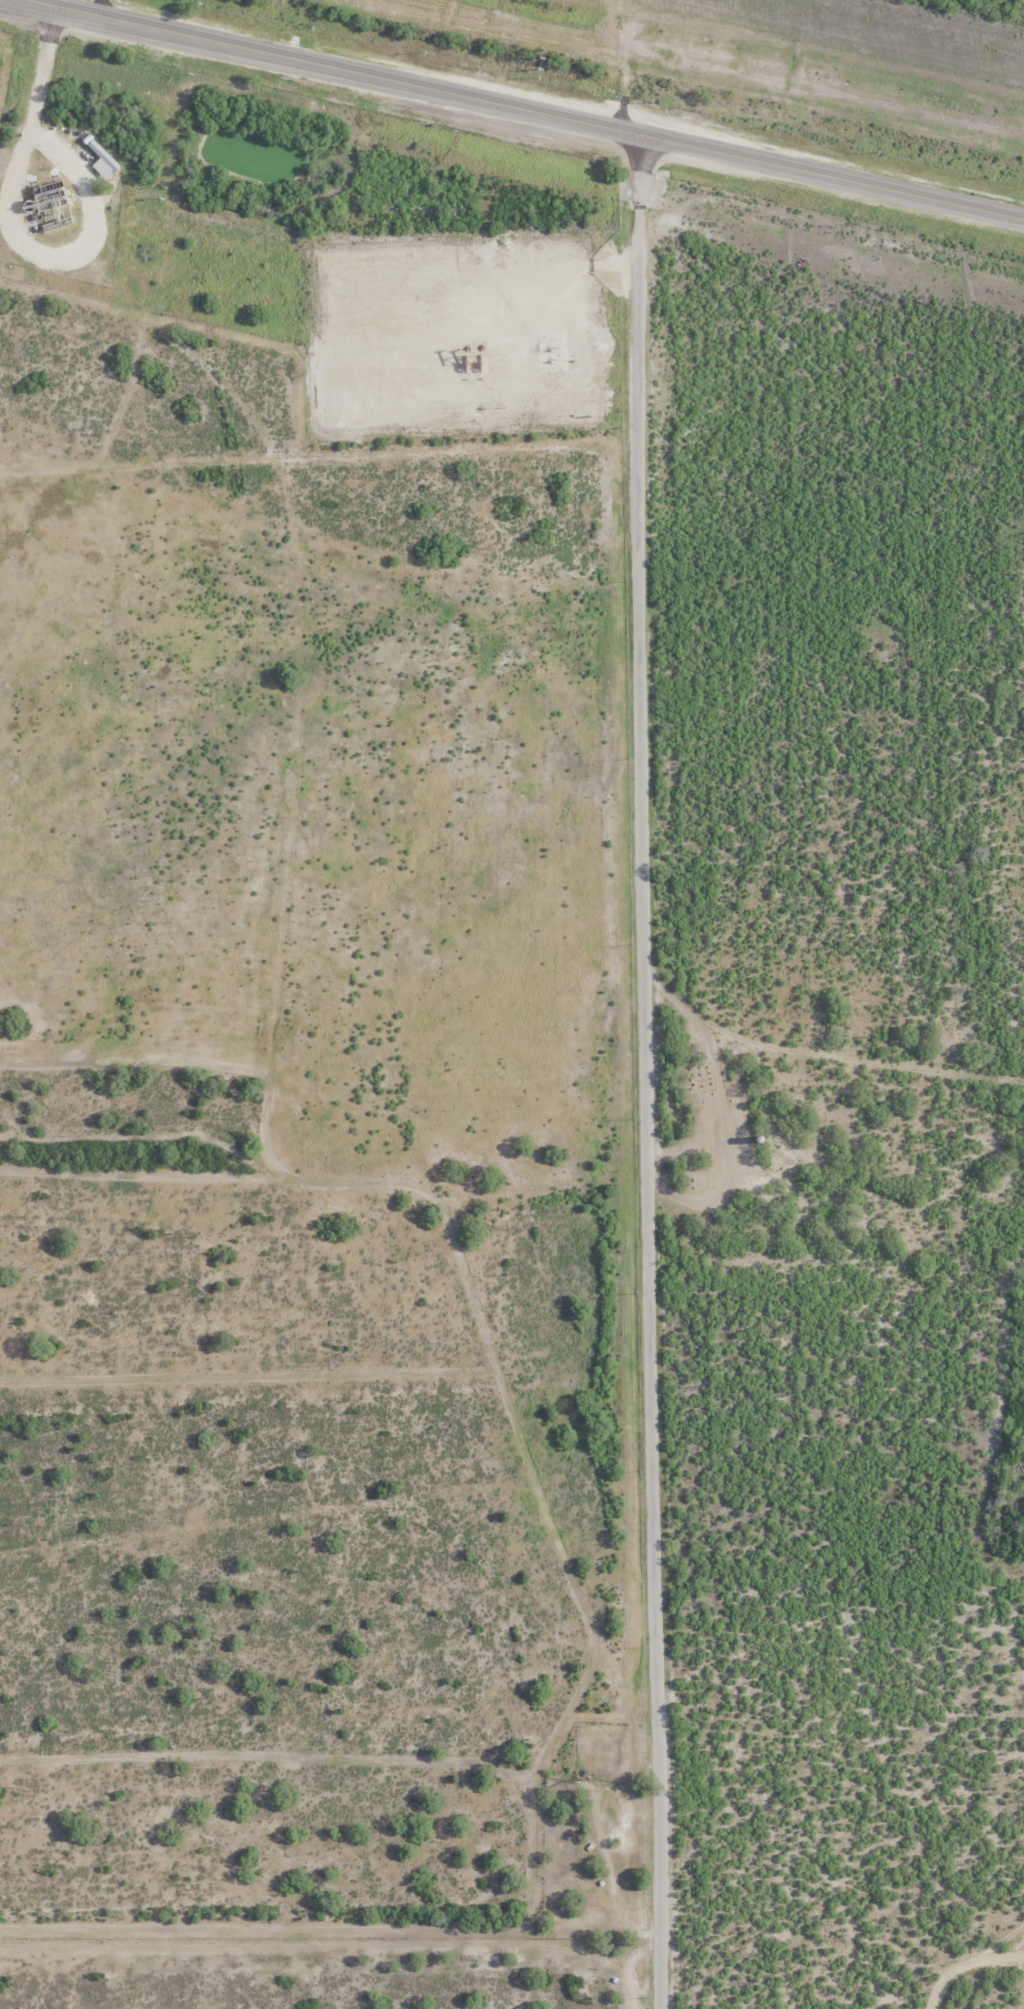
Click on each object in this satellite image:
road: (104, 9)
road: (520, 111)
building: (101, 157)
petroleum well: (478, 357)
road: (647, 1073)

